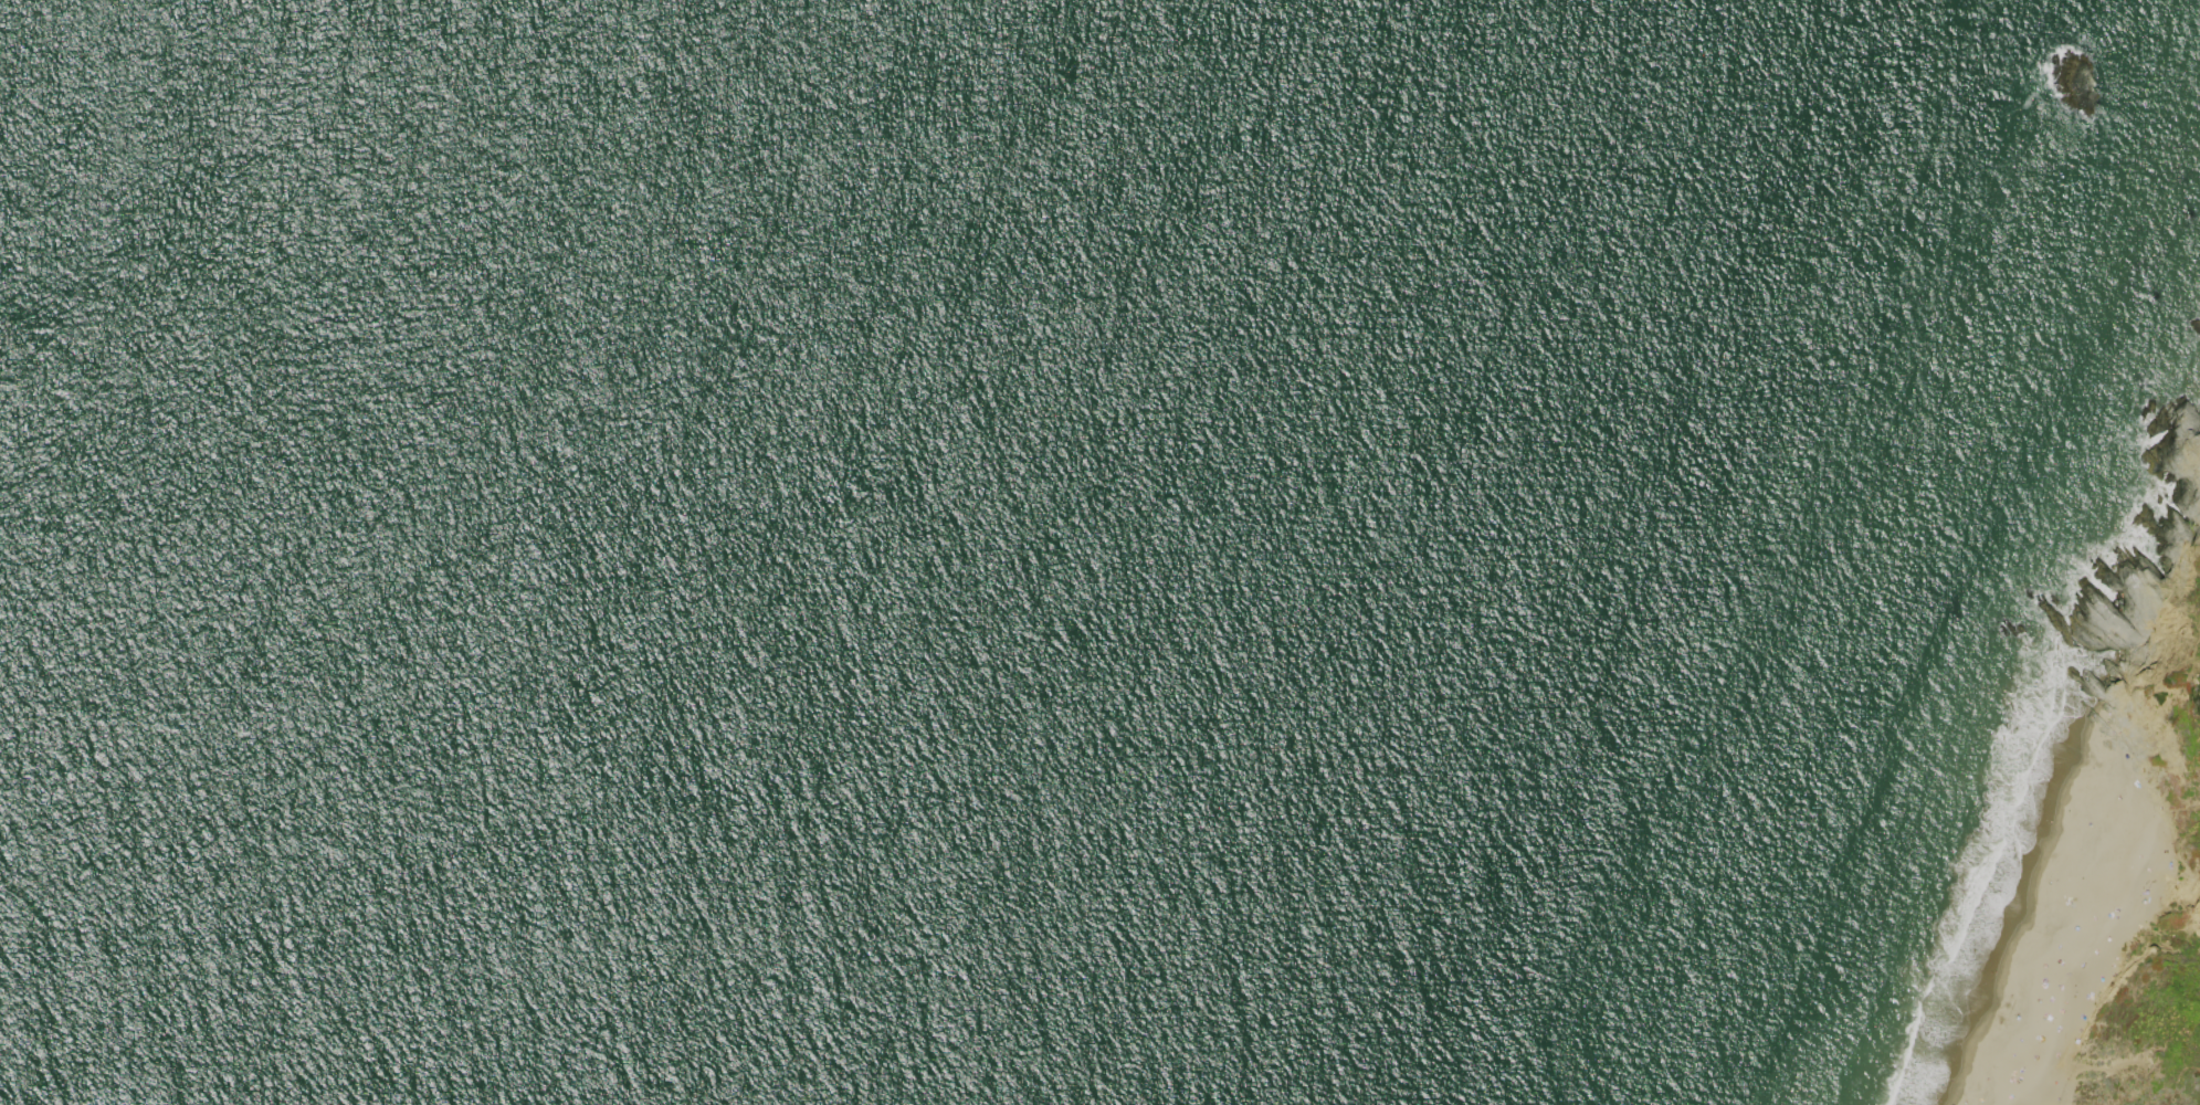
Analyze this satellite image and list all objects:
road: (2199, 609)
road: (2191, 661)
park: (2104, 850)

